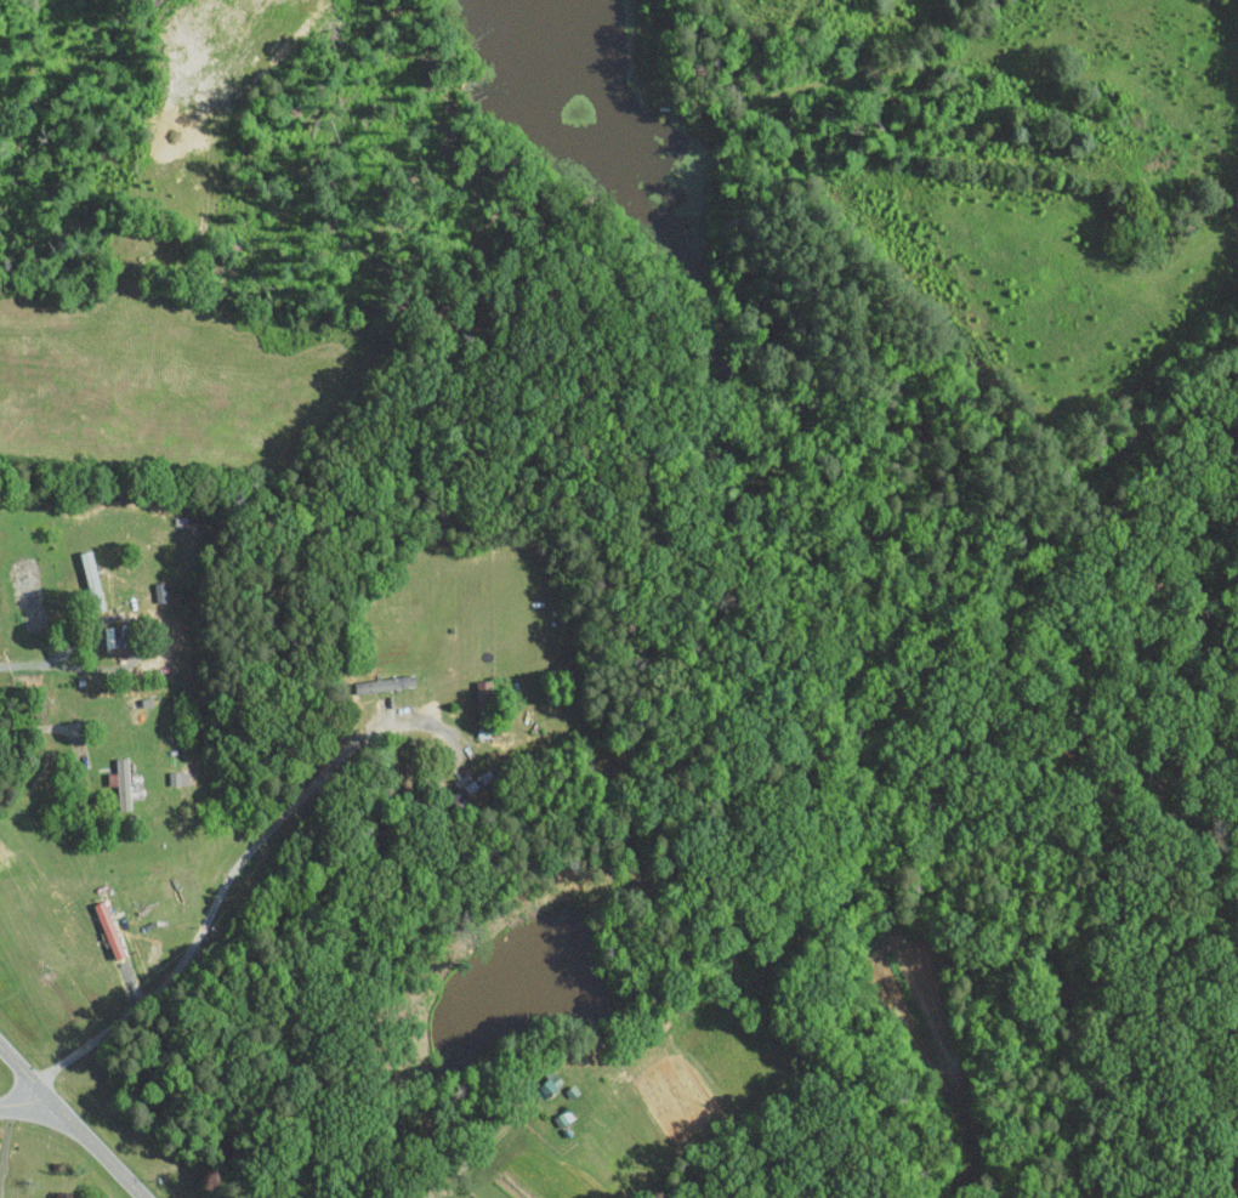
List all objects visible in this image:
building: (112, 636)
road: (30, 660)
building: (376, 683)
building: (483, 694)
road: (44, 727)
building: (123, 783)
road: (246, 846)
building: (108, 929)
road: (22, 1102)
road: (68, 1123)
road: (5, 1134)

